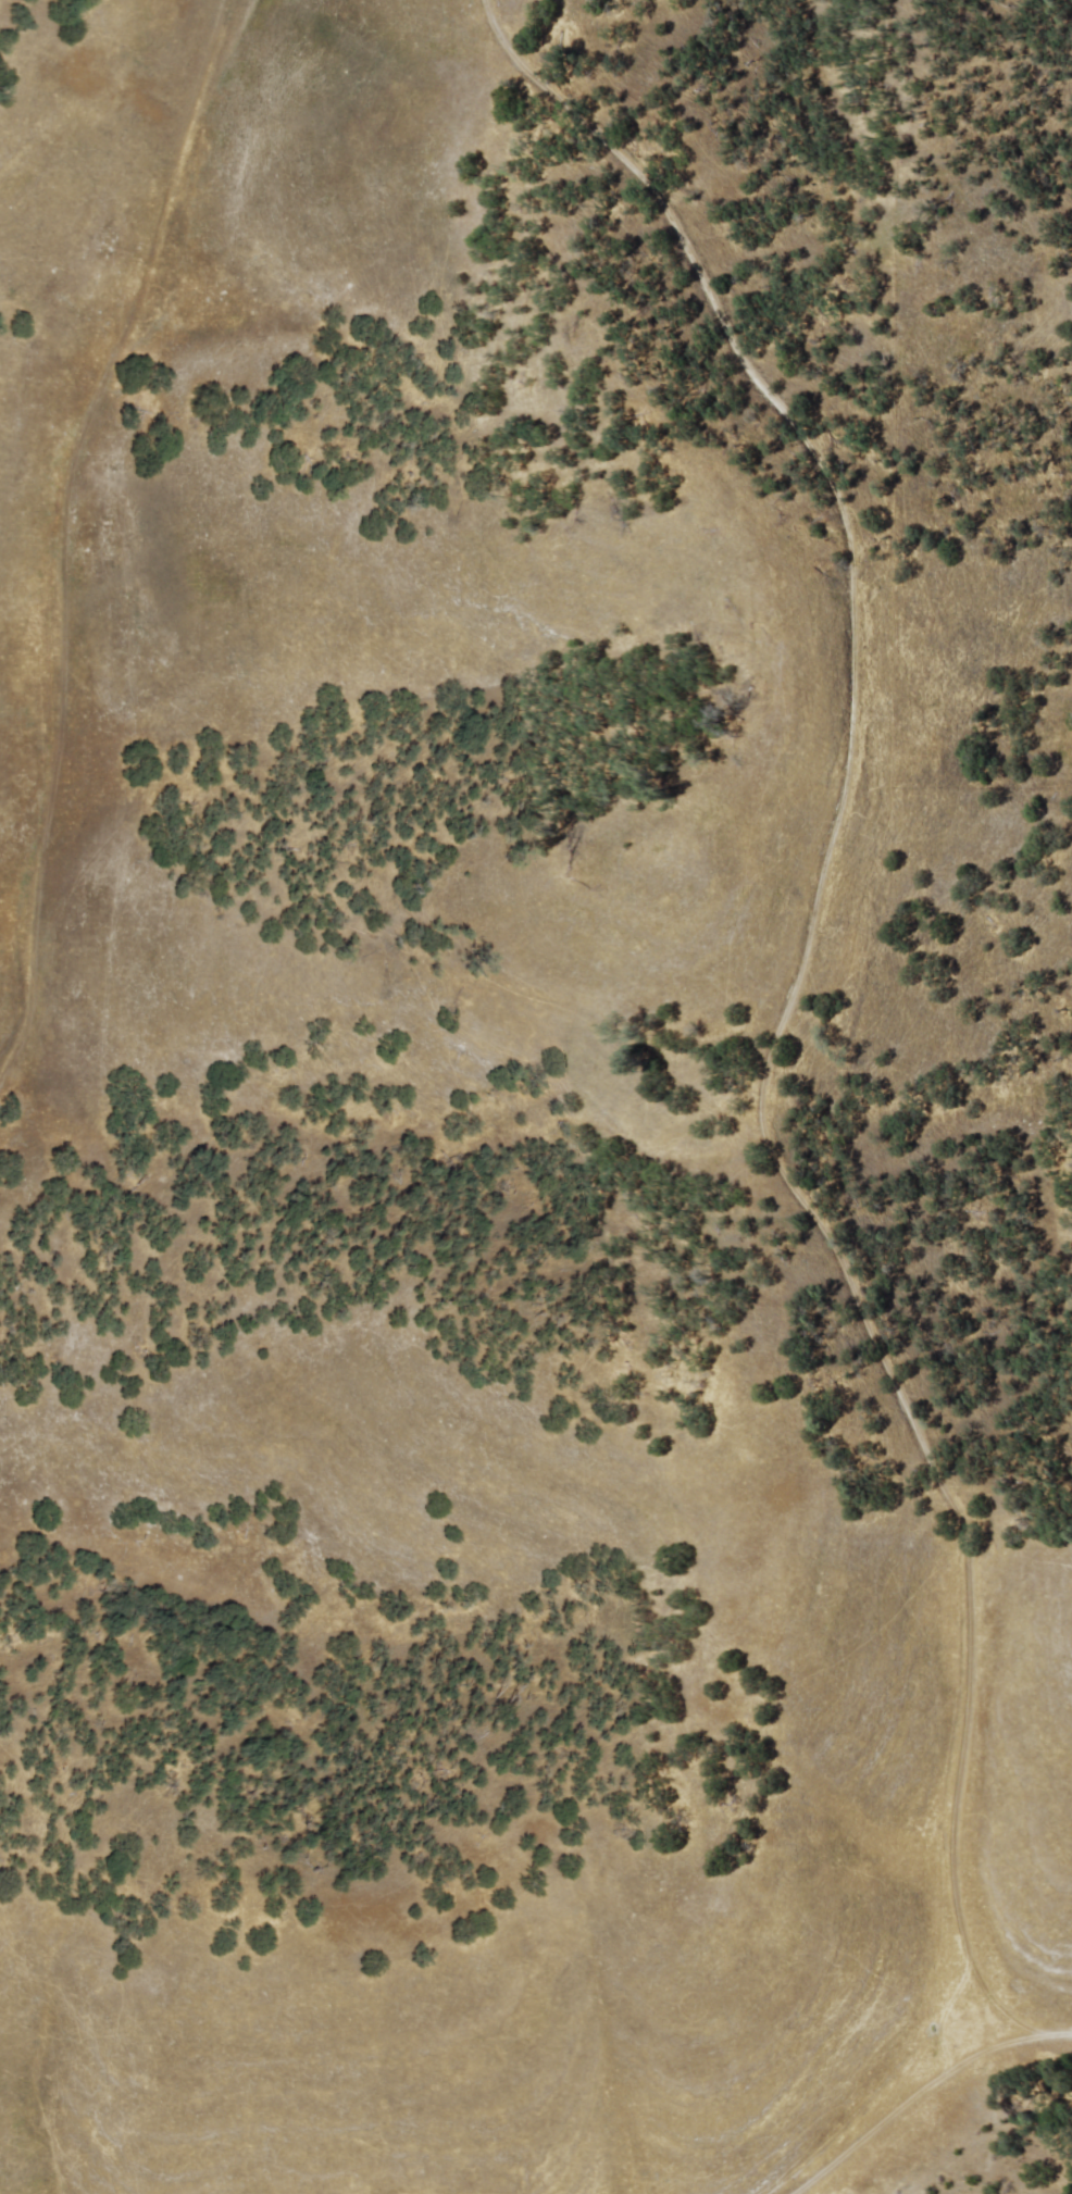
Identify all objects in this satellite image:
road: (919, 2093)

